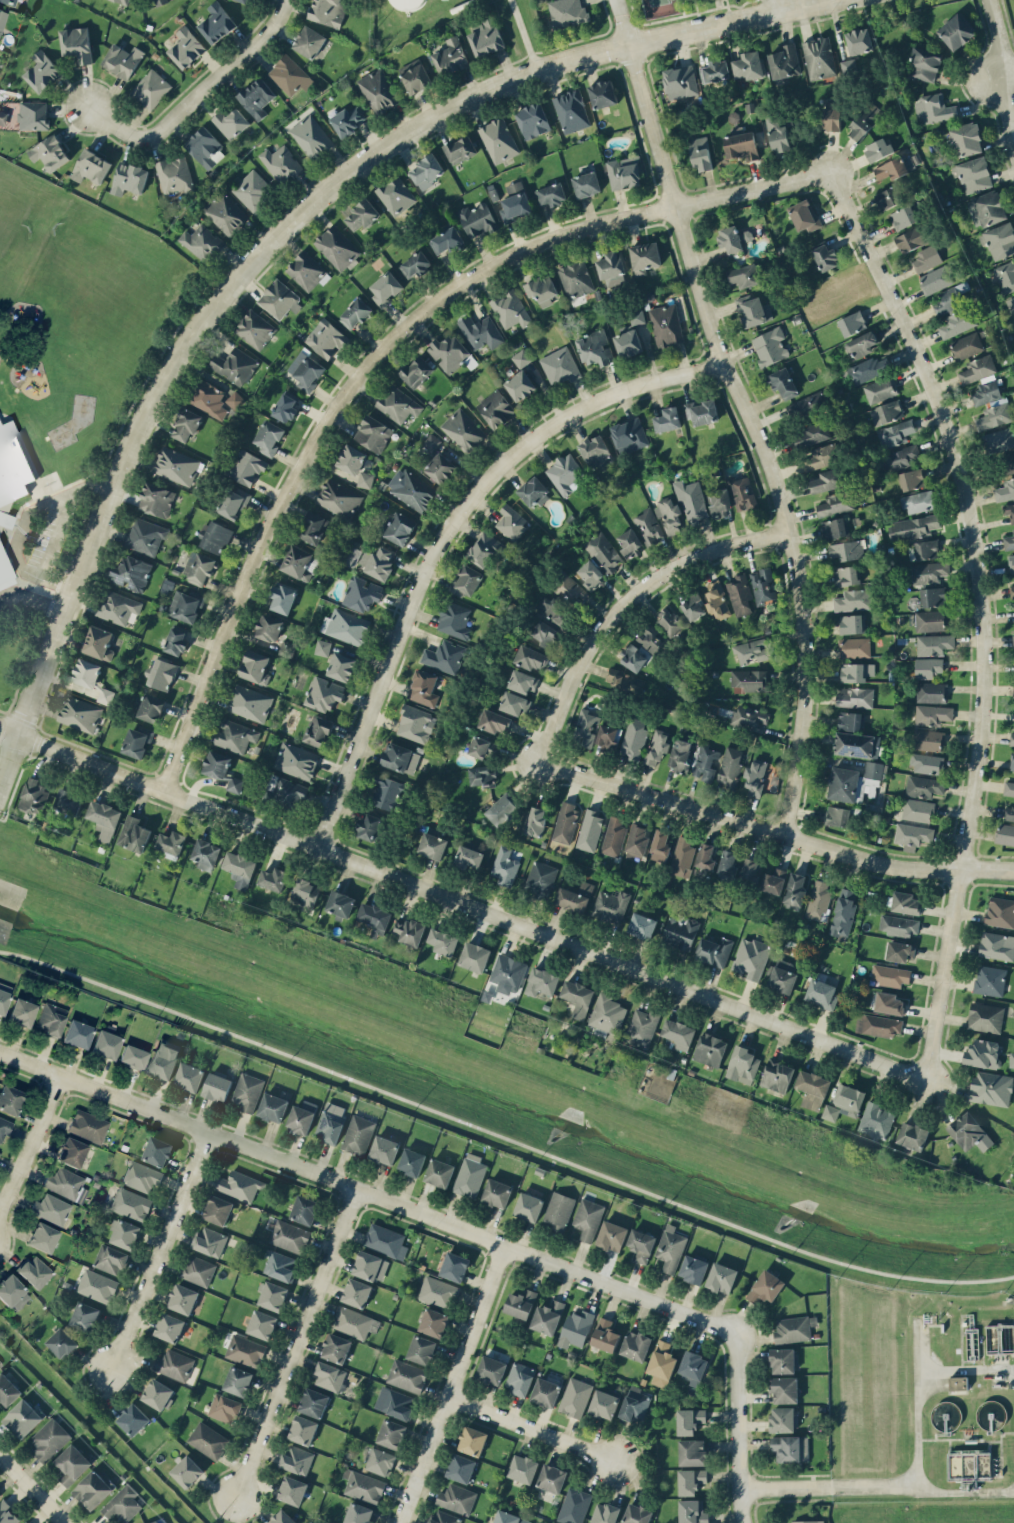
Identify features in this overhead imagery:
building: (10, 1)
building: (123, 1)
building: (244, 1)
building: (159, 2)
building: (407, 4)
road: (782, 4)
building: (329, 11)
building: (566, 12)
building: (2, 19)
building: (216, 22)
road: (619, 22)
building: (956, 30)
road: (520, 34)
building: (486, 36)
building: (859, 40)
building: (309, 41)
building: (77, 43)
building: (186, 47)
building: (450, 56)
building: (819, 58)
building: (122, 60)
building: (784, 61)
building: (924, 64)
building: (748, 65)
building: (848, 66)
building: (715, 70)
building: (42, 71)
road: (1008, 71)
building: (289, 75)
building: (415, 75)
road: (1002, 76)
building: (680, 81)
building: (150, 88)
building: (378, 90)
building: (603, 93)
road: (194, 97)
building: (256, 97)
building: (933, 108)
building: (571, 110)
building: (831, 114)
building: (33, 115)
building: (3, 118)
building: (864, 119)
building: (533, 120)
building: (347, 121)
building: (230, 122)
building: (777, 131)
building: (311, 136)
building: (498, 139)
building: (966, 139)
building: (741, 146)
building: (205, 147)
building: (460, 149)
building: (878, 149)
building: (50, 152)
building: (701, 153)
building: (281, 163)
building: (91, 167)
building: (891, 168)
building: (426, 170)
building: (624, 172)
building: (174, 174)
building: (973, 174)
building: (129, 178)
building: (586, 184)
building: (514, 186)
building: (253, 190)
building: (552, 193)
building: (395, 194)
building: (890, 196)
building: (515, 206)
building: (990, 207)
building: (225, 213)
building: (361, 215)
building: (804, 215)
building: (905, 215)
building: (476, 218)
road: (290, 219)
building: (747, 235)
building: (912, 238)
building: (731, 239)
building: (446, 240)
building: (999, 240)
building: (202, 242)
building: (337, 247)
building: (645, 256)
building: (825, 256)
building: (926, 258)
building: (415, 264)
building: (611, 268)
building: (306, 271)
building: (745, 275)
building: (1006, 275)
building: (576, 278)
building: (937, 278)
building: (386, 287)
building: (542, 289)
building: (949, 298)
building: (279, 299)
building: (1010, 303)
building: (510, 309)
building: (753, 310)
building: (355, 313)
building: (637, 316)
building: (958, 322)
building: (852, 323)
building: (666, 325)
building: (254, 328)
building: (480, 331)
building: (1013, 334)
building: (326, 338)
building: (628, 343)
building: (862, 344)
building: (966, 345)
building: (770, 346)
building: (595, 347)
building: (449, 352)
road: (378, 356)
building: (521, 358)
building: (235, 365)
building: (559, 365)
building: (869, 368)
building: (977, 368)
building: (306, 369)
building: (417, 371)
building: (783, 382)
building: (520, 385)
building: (881, 389)
building: (986, 390)
building: (208, 398)
building: (235, 399)
building: (398, 404)
building: (807, 404)
building: (285, 407)
building: (495, 408)
building: (702, 411)
building: (886, 412)
building: (995, 414)
building: (667, 419)
building: (186, 424)
building: (463, 430)
road: (762, 430)
building: (895, 432)
building: (373, 433)
building: (811, 434)
building: (629, 435)
building: (269, 437)
building: (998, 439)
building: (431, 441)
building: (597, 452)
building: (821, 456)
building: (900, 457)
building: (1007, 463)
building: (355, 464)
building: (176, 465)
building: (439, 466)
building: (11, 468)
building: (246, 468)
building: (565, 473)
building: (911, 479)
building: (828, 480)
building: (413, 490)
building: (534, 491)
building: (1005, 491)
building: (742, 493)
building: (339, 498)
building: (156, 499)
building: (691, 500)
building: (719, 501)
building: (917, 501)
building: (232, 502)
building: (835, 503)
building: (1008, 510)
building: (668, 514)
building: (511, 521)
building: (649, 525)
building: (835, 527)
building: (912, 527)
road: (56, 528)
building: (314, 528)
building: (398, 528)
road: (449, 530)
building: (145, 536)
building: (214, 536)
building: (1008, 540)
building: (629, 543)
building: (485, 549)
building: (926, 549)
building: (846, 550)
building: (604, 551)
building: (297, 560)
building: (378, 561)
building: (1011, 562)
building: (198, 567)
building: (4, 569)
building: (928, 571)
building: (132, 572)
building: (591, 574)
building: (846, 575)
building: (466, 580)
building: (762, 585)
building: (571, 589)
building: (1012, 590)
building: (361, 593)
road: (35, 594)
building: (740, 594)
building: (933, 596)
building: (283, 598)
road: (628, 598)
building: (853, 599)
building: (717, 600)
building: (186, 605)
road: (985, 606)
building: (118, 607)
building: (693, 607)
building: (553, 610)
building: (454, 619)
building: (929, 620)
building: (669, 621)
building: (851, 623)
building: (346, 626)
building: (269, 627)
building: (543, 634)
building: (652, 639)
building: (1013, 639)
building: (177, 641)
building: (98, 642)
building: (934, 643)
building: (322, 647)
building: (855, 647)
building: (752, 650)
building: (444, 656)
building: (531, 657)
building: (632, 657)
building: (255, 666)
building: (342, 666)
building: (927, 667)
building: (856, 671)
building: (162, 673)
building: (91, 678)
building: (750, 679)
building: (622, 680)
building: (523, 681)
building: (424, 687)
building: (1013, 689)
building: (931, 691)
building: (324, 693)
building: (854, 696)
building: (250, 702)
building: (515, 703)
building: (152, 707)
building: (79, 713)
building: (934, 714)
building: (749, 718)
building: (849, 720)
building: (496, 721)
building: (416, 724)
building: (585, 728)
building: (318, 730)
building: (235, 735)
building: (608, 736)
building: (634, 738)
building: (1012, 738)
building: (928, 739)
building: (137, 741)
building: (857, 744)
building: (656, 746)
building: (483, 747)
building: (680, 755)
building: (400, 757)
road: (11, 759)
building: (296, 760)
building: (1012, 761)
building: (705, 762)
building: (927, 763)
building: (217, 764)
building: (730, 766)
building: (874, 769)
building: (481, 775)
building: (755, 777)
building: (235, 784)
building: (924, 786)
building: (1008, 788)
building: (285, 790)
building: (388, 793)
building: (34, 795)
building: (69, 801)
building: (500, 807)
building: (917, 810)
building: (1009, 813)
building: (838, 815)
building: (104, 818)
building: (536, 820)
building: (566, 822)
building: (369, 826)
building: (589, 829)
road: (775, 829)
building: (134, 834)
building: (1005, 834)
building: (912, 835)
building: (613, 836)
building: (172, 841)
building: (637, 842)
building: (433, 843)
building: (660, 845)
building: (206, 854)
building: (682, 856)
building: (706, 856)
building: (468, 857)
building: (504, 866)
building: (239, 868)
building: (750, 872)
building: (540, 877)
building: (274, 878)
building: (774, 881)
building: (795, 890)
building: (305, 892)
building: (574, 896)
road: (461, 900)
building: (819, 900)
building: (340, 903)
building: (906, 903)
building: (610, 905)
building: (1000, 911)
building: (844, 912)
building: (374, 918)
building: (642, 924)
building: (899, 925)
building: (410, 931)
building: (680, 933)
building: (443, 941)
building: (997, 945)
building: (714, 950)
building: (901, 950)
building: (474, 956)
building: (751, 957)
building: (508, 973)
building: (783, 975)
building: (891, 975)
building: (990, 980)
building: (541, 981)
building: (821, 993)
building: (578, 996)
building: (4, 997)
building: (889, 1003)
building: (22, 1012)
building: (607, 1013)
building: (985, 1017)
building: (51, 1019)
building: (879, 1024)
building: (641, 1027)
building: (678, 1033)
building: (77, 1034)
building: (106, 1043)
building: (710, 1049)
building: (983, 1053)
building: (132, 1057)
building: (1011, 1059)
building: (163, 1060)
building: (742, 1064)
building: (777, 1075)
building: (189, 1076)
building: (217, 1086)
building: (812, 1088)
building: (991, 1088)
building: (247, 1091)
building: (10, 1100)
building: (844, 1102)
river: (503, 1103)
building: (273, 1107)
building: (302, 1116)
building: (876, 1120)
building: (330, 1124)
building: (88, 1126)
building: (4, 1128)
building: (969, 1132)
building: (358, 1134)
building: (912, 1135)
road: (502, 1137)
road: (30, 1144)
building: (384, 1149)
building: (157, 1151)
building: (72, 1152)
building: (412, 1161)
building: (440, 1172)
building: (141, 1175)
building: (470, 1175)
building: (66, 1184)
building: (240, 1185)
road: (369, 1192)
building: (497, 1192)
building: (131, 1203)
building: (529, 1206)
building: (51, 1209)
building: (218, 1209)
building: (305, 1209)
building: (559, 1210)
building: (588, 1218)
building: (124, 1233)
building: (612, 1235)
building: (290, 1236)
building: (43, 1237)
building: (385, 1240)
building: (210, 1241)
building: (641, 1244)
building: (670, 1247)
road: (158, 1251)
building: (111, 1259)
building: (280, 1265)
building: (370, 1265)
building: (454, 1266)
building: (693, 1268)
building: (198, 1270)
building: (34, 1272)
building: (721, 1277)
building: (97, 1285)
building: (766, 1286)
building: (357, 1292)
building: (438, 1292)
building: (13, 1293)
building: (272, 1295)
building: (183, 1298)
building: (520, 1302)
building: (85, 1315)
building: (548, 1316)
building: (354, 1322)
building: (434, 1322)
building: (262, 1324)
building: (169, 1326)
building: (575, 1328)
building: (792, 1329)
building: (605, 1334)
road: (297, 1340)
building: (62, 1342)
building: (636, 1344)
building: (336, 1347)
building: (422, 1349)
building: (245, 1350)
building: (783, 1360)
building: (661, 1363)
building: (0, 1364)
building: (175, 1364)
building: (692, 1367)
road: (968, 1367)
building: (491, 1369)
building: (407, 1375)
building: (329, 1376)
building: (519, 1378)
building: (238, 1380)
building: (958, 1382)
road: (454, 1384)
building: (784, 1389)
building: (8, 1390)
building: (545, 1391)
building: (158, 1394)
building: (575, 1397)
wastewater plant: (956, 1401)
building: (314, 1402)
building: (394, 1402)
building: (604, 1404)
building: (634, 1404)
road: (923, 1406)
building: (224, 1408)
building: (23, 1418)
building: (133, 1418)
building: (782, 1419)
building: (689, 1420)
road: (534, 1428)
road: (742, 1428)
building: (303, 1429)
building: (391, 1433)
building: (49, 1439)
building: (208, 1440)
building: (472, 1440)
building: (790, 1448)
building: (692, 1451)
building: (296, 1459)
building: (381, 1461)
building: (970, 1463)
building: (72, 1464)
building: (461, 1467)
building: (523, 1468)
building: (187, 1471)
building: (552, 1478)
building: (690, 1480)
road: (880, 1485)
building: (364, 1486)
road: (32, 1489)
building: (92, 1489)
building: (292, 1490)
building: (457, 1498)
building: (122, 1503)
building: (574, 1505)
building: (692, 1511)
building: (8, 1513)
building: (359, 1513)
building: (604, 1513)
building: (637, 1514)
building: (282, 1517)
building: (444, 1517)
building: (510, 1518)
building: (154, 1521)
building: (806, 1521)

